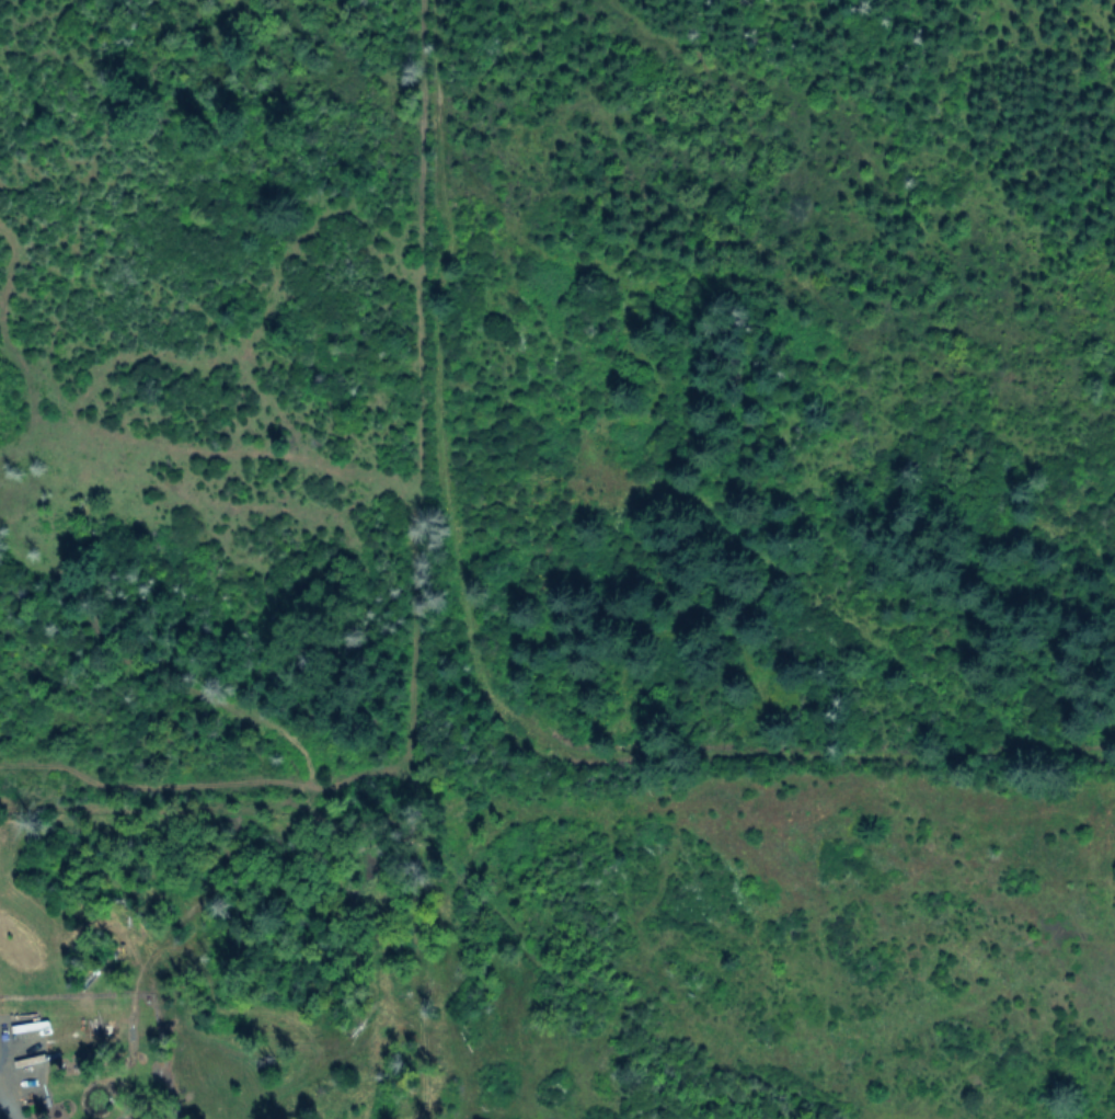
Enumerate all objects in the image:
road: (11, 1105)

